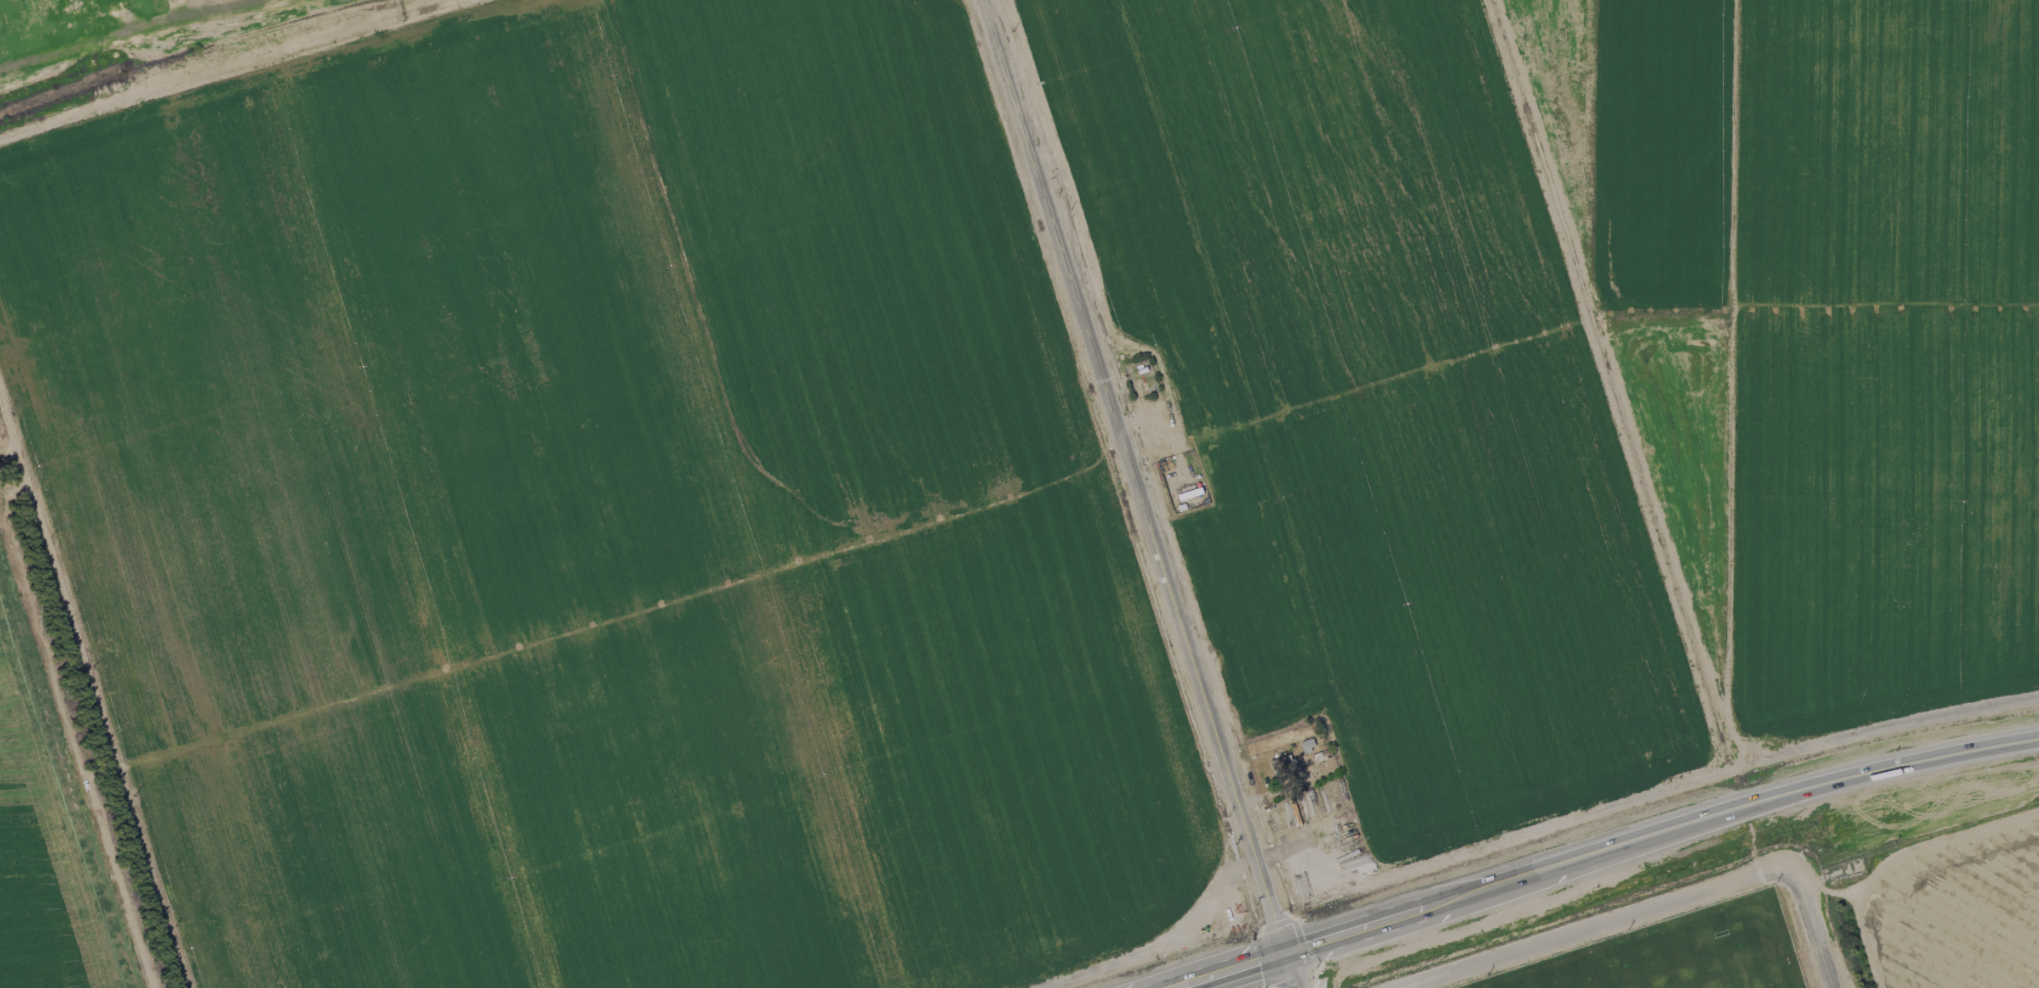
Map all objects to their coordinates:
road: (1134, 477)
building: (1306, 745)
building: (1282, 764)
road: (1913, 846)
road: (1604, 851)
road: (1595, 925)
road: (1811, 927)
road: (1288, 971)

